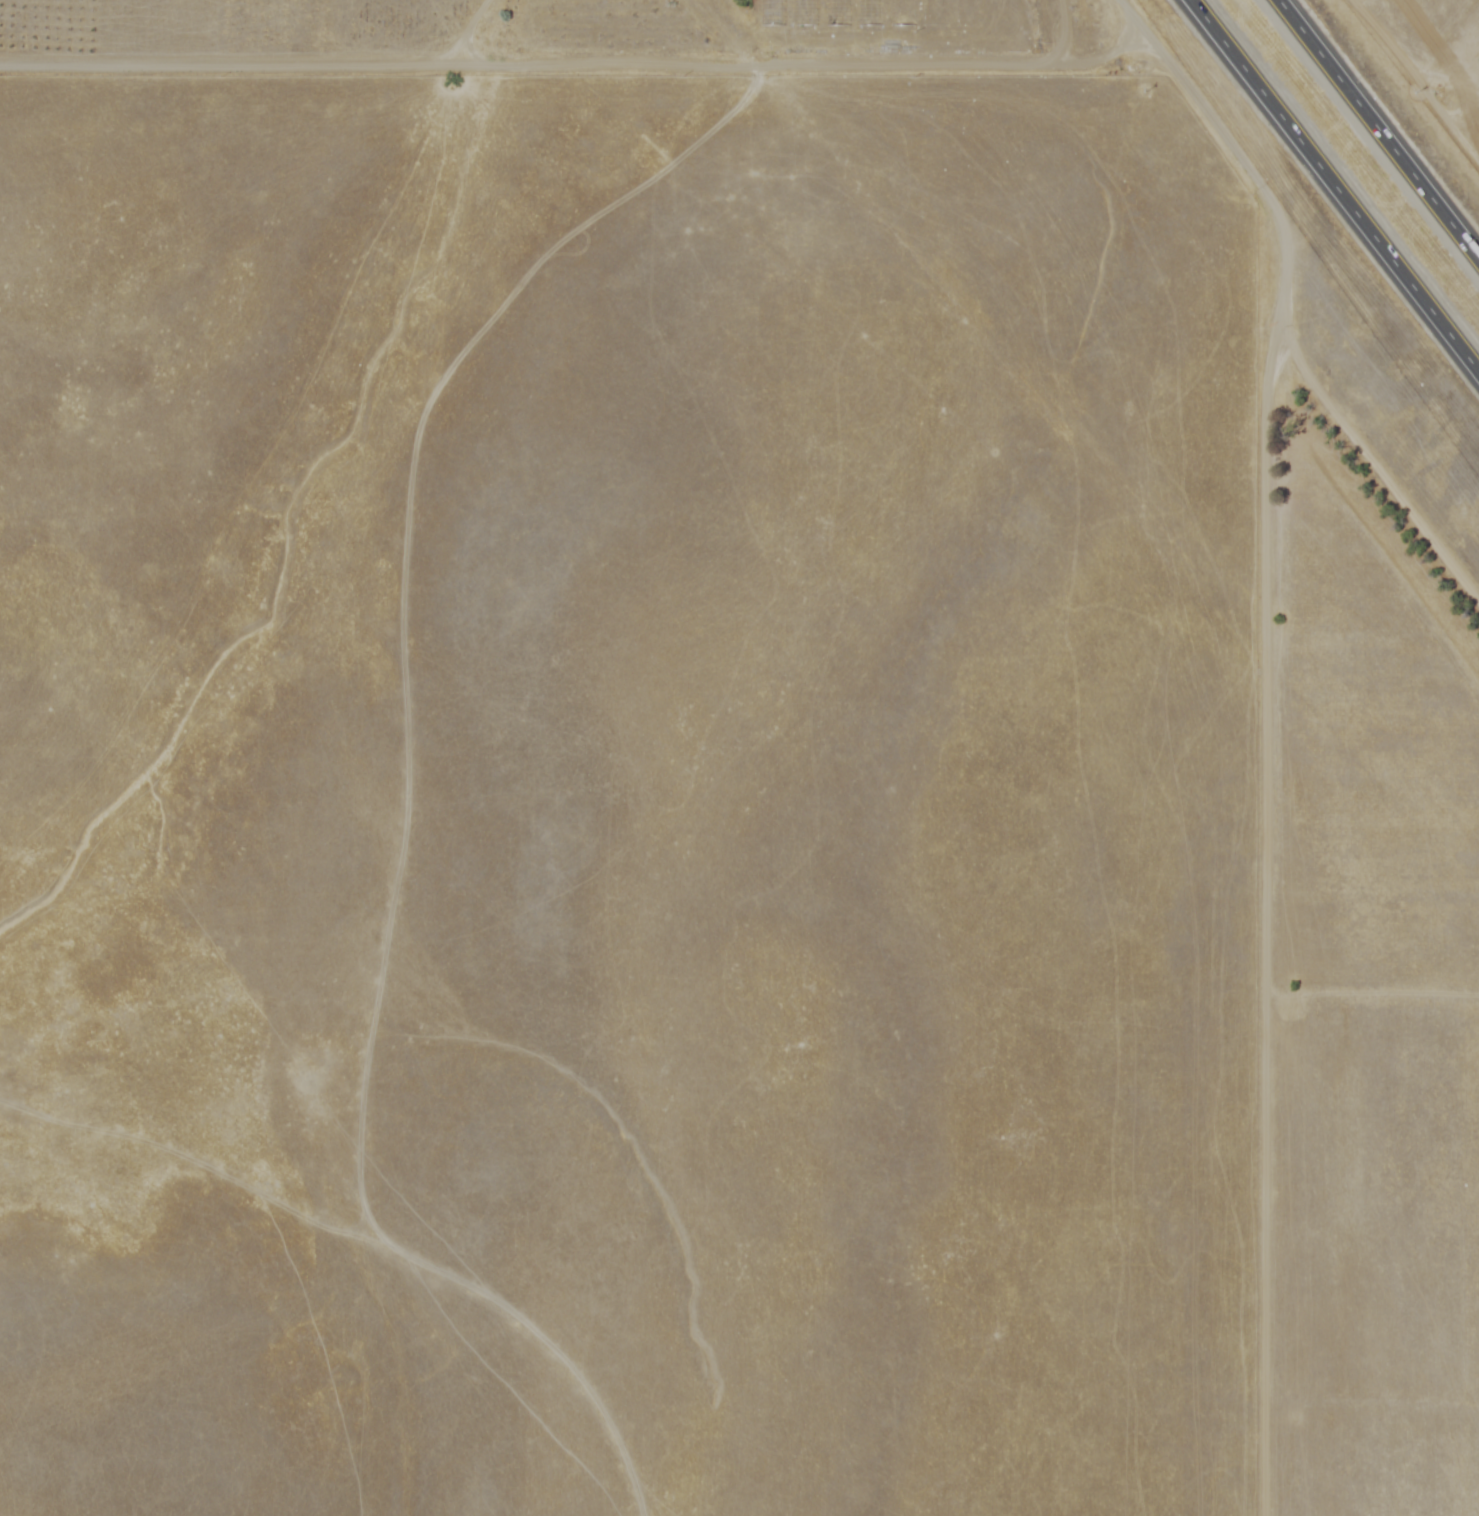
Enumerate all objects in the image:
crop: (207, 26)
road: (1407, 52)
road: (584, 65)
crop: (1422, 71)
road: (1377, 132)
road: (1333, 188)
crop: (1363, 883)

